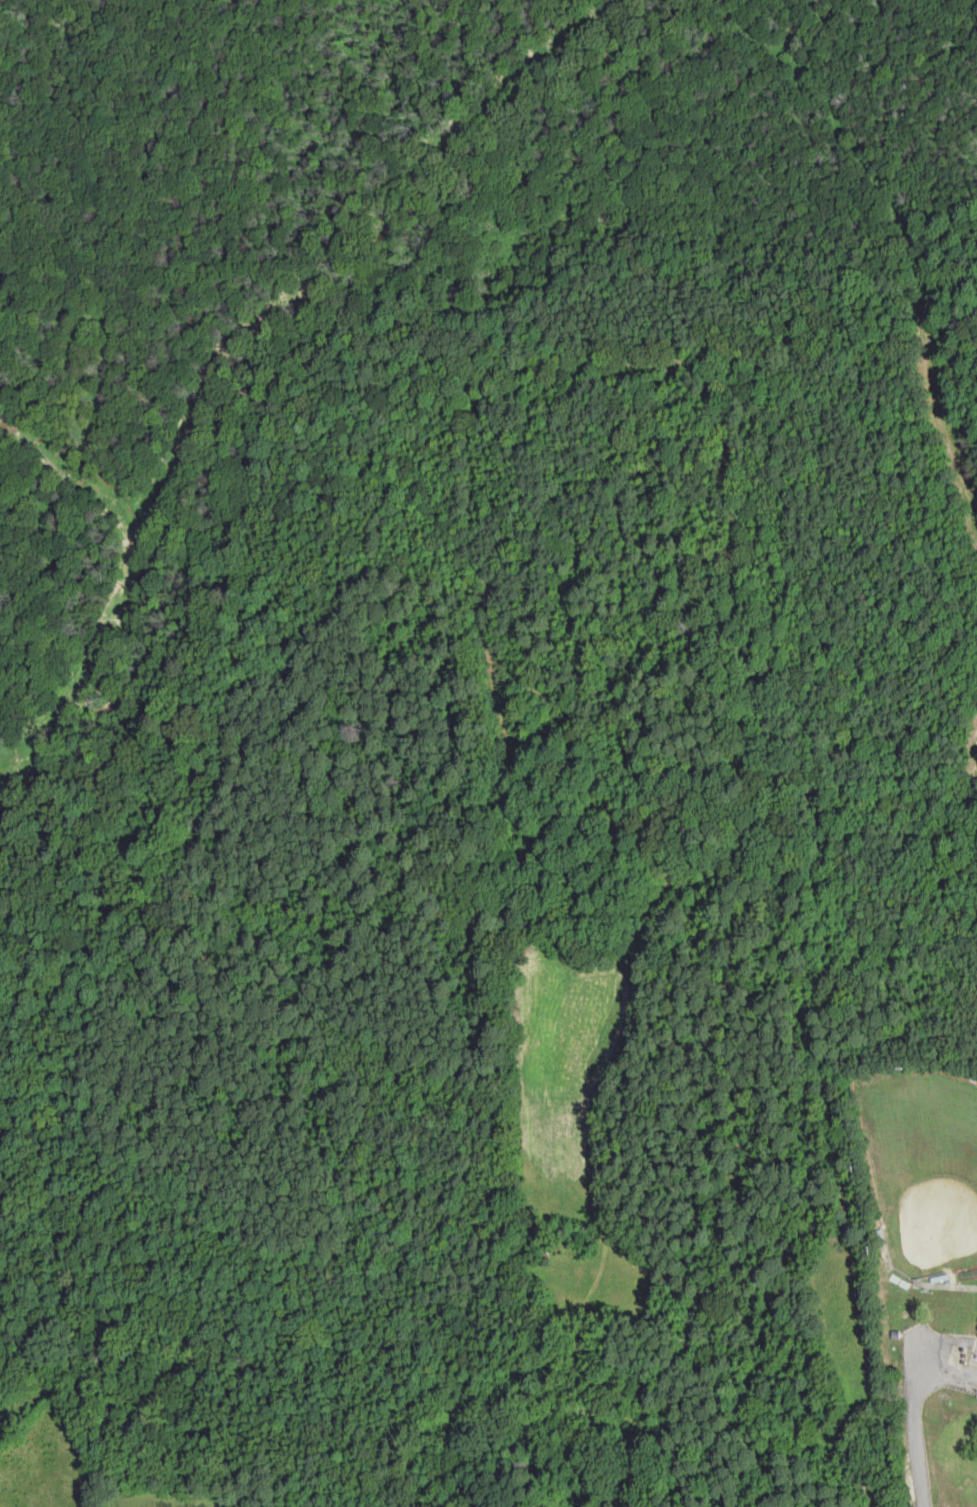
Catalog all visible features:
park: (926, 1161)

